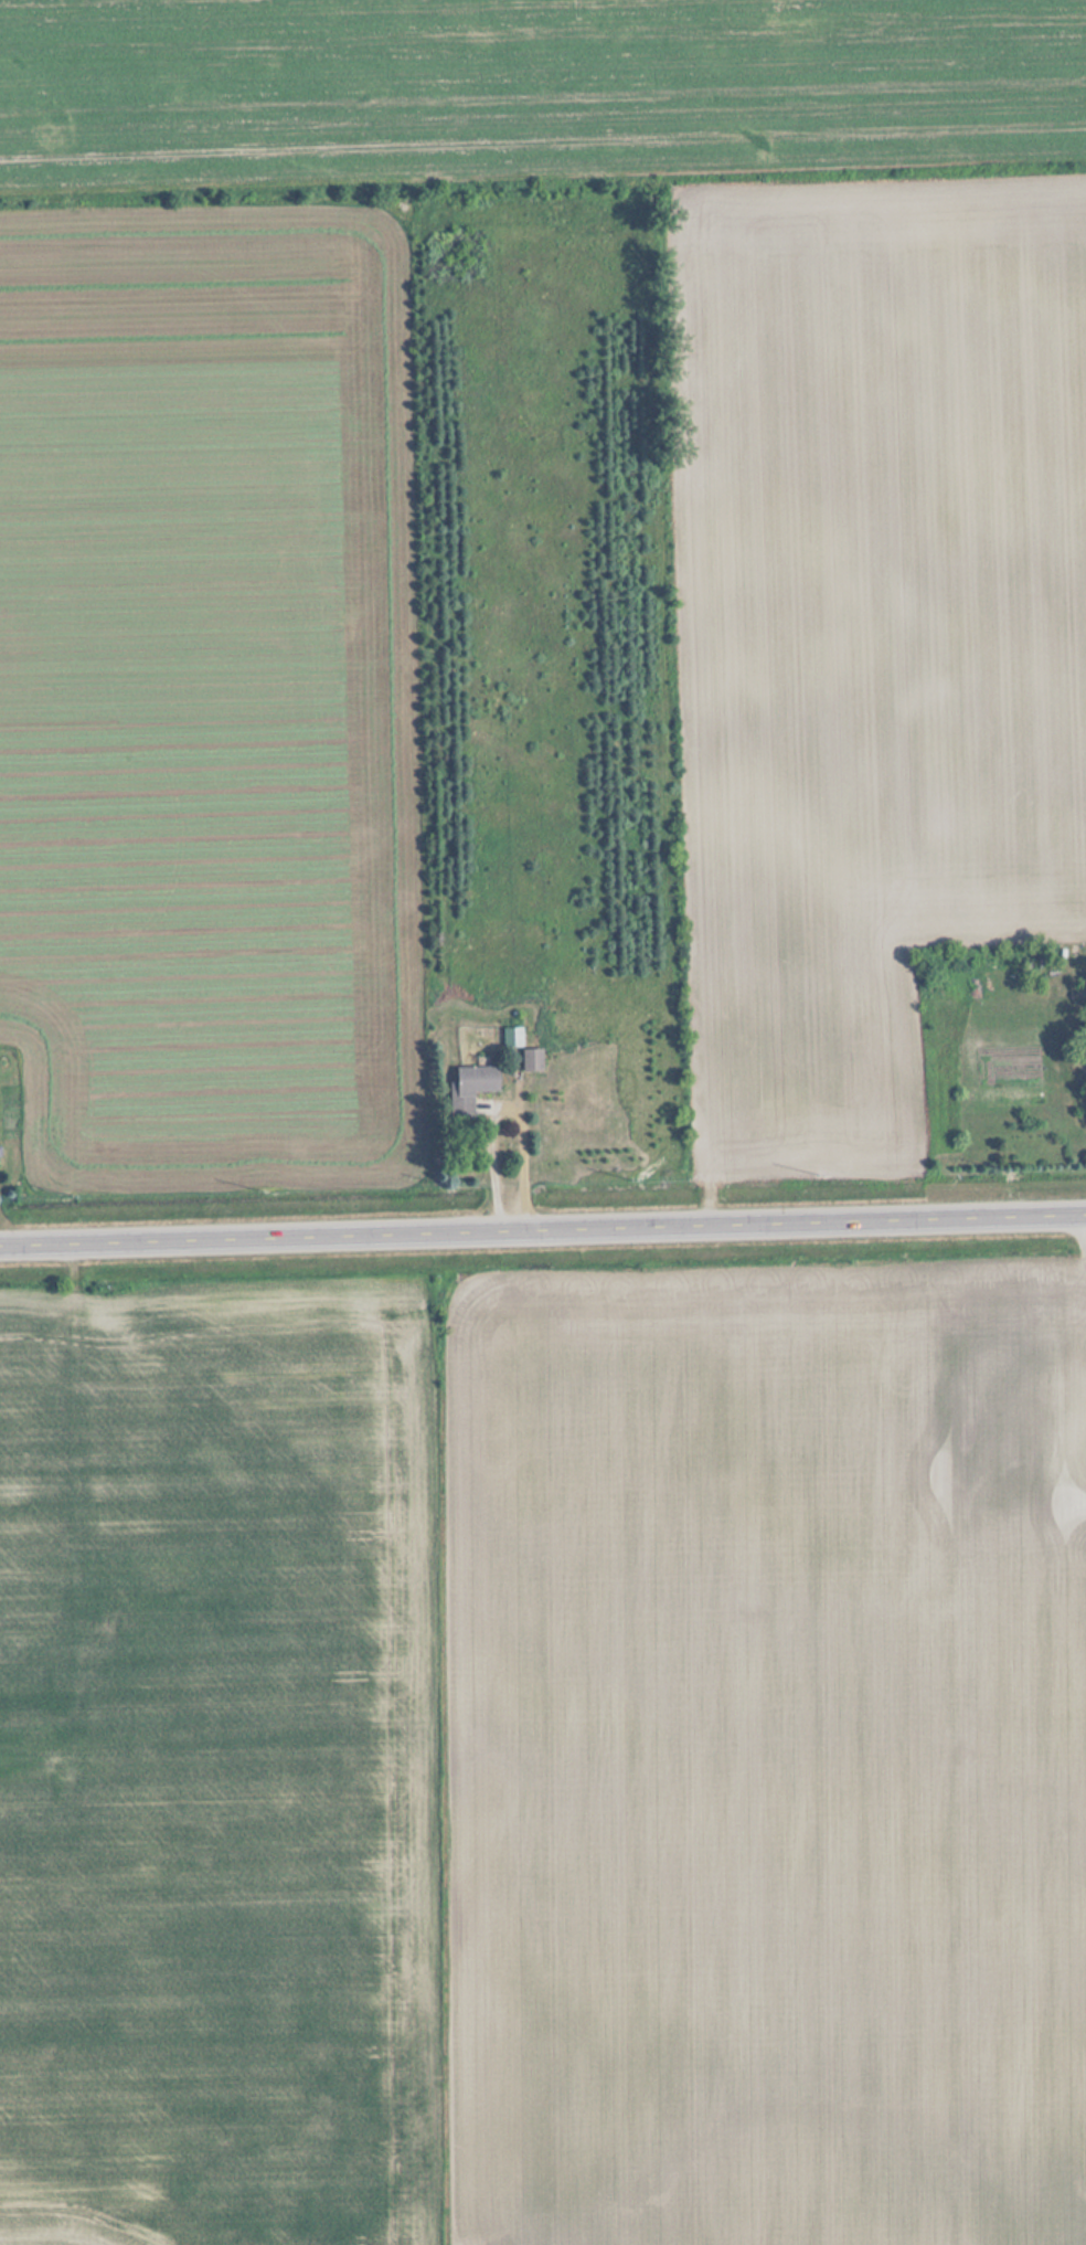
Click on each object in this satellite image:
building: (471, 1088)
road: (542, 1226)
road: (79, 1492)

